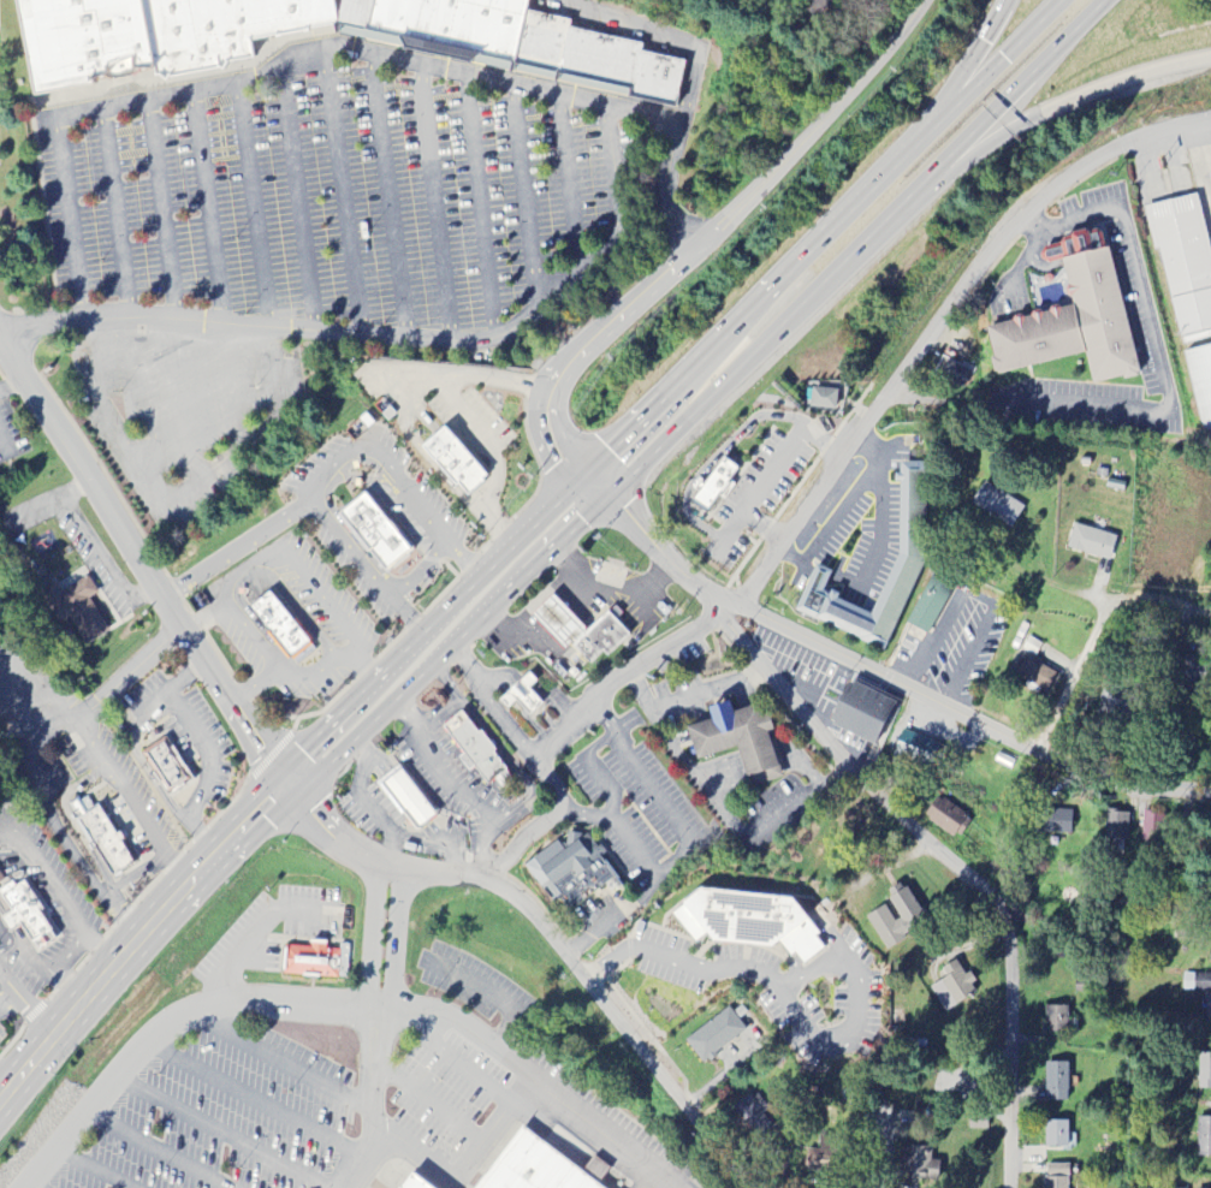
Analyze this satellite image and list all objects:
building: (443, 22)
building: (222, 28)
road: (665, 37)
building: (81, 42)
road: (966, 63)
road: (232, 83)
road: (1055, 109)
traffic signals: (930, 125)
road: (568, 182)
road: (526, 194)
road: (342, 196)
road: (390, 196)
road: (298, 201)
road: (434, 201)
road: (254, 204)
road: (481, 204)
road: (204, 207)
road: (162, 208)
road: (115, 212)
road: (716, 226)
building: (1183, 265)
road: (936, 320)
building: (1073, 320)
road: (492, 335)
road: (1153, 338)
building: (952, 374)
road: (235, 385)
road: (12, 386)
building: (1201, 386)
road: (672, 390)
building: (825, 394)
road: (142, 396)
road: (189, 398)
road: (706, 400)
road: (462, 421)
road: (4, 445)
building: (451, 459)
road: (332, 465)
road: (575, 473)
traffic signals: (581, 479)
building: (713, 483)
road: (75, 488)
road: (178, 491)
traffic signals: (604, 500)
building: (997, 505)
road: (35, 506)
road: (842, 507)
road: (880, 518)
building: (372, 529)
building: (1091, 542)
road: (96, 546)
road: (237, 548)
building: (910, 553)
road: (265, 554)
road: (138, 565)
road: (422, 570)
road: (583, 580)
road: (1055, 583)
road: (635, 590)
road: (141, 592)
building: (928, 606)
building: (76, 610)
road: (202, 619)
building: (558, 620)
road: (558, 620)
building: (278, 624)
road: (1097, 634)
building: (601, 636)
road: (511, 637)
road: (649, 654)
road: (308, 673)
road: (881, 679)
building: (520, 694)
road: (685, 695)
building: (1117, 702)
road: (489, 706)
building: (862, 713)
road: (36, 737)
building: (737, 738)
building: (474, 748)
road: (207, 752)
building: (915, 752)
building: (165, 764)
traffic signals: (291, 782)
road: (120, 784)
building: (405, 798)
building: (946, 818)
building: (1053, 821)
road: (730, 822)
building: (1116, 825)
building: (1148, 826)
road: (681, 827)
building: (103, 839)
road: (950, 856)
road: (149, 863)
building: (570, 869)
building: (0, 879)
road: (120, 914)
building: (23, 915)
road: (612, 916)
building: (895, 916)
building: (747, 920)
road: (138, 934)
road: (255, 935)
road: (548, 937)
road: (374, 957)
building: (310, 960)
road: (391, 960)
building: (952, 987)
road: (489, 993)
road: (25, 999)
road: (785, 1002)
road: (336, 1005)
building: (1207, 1010)
building: (1056, 1020)
building: (716, 1034)
road: (280, 1061)
road: (461, 1064)
building: (1204, 1073)
building: (1056, 1082)
road: (254, 1099)
road: (429, 1103)
building: (753, 1115)
building: (904, 1119)
building: (978, 1123)
road: (374, 1124)
road: (219, 1134)
building: (1056, 1134)
building: (1203, 1136)
road: (156, 1148)
building: (821, 1158)
road: (463, 1165)
road: (91, 1168)
building: (533, 1168)
building: (919, 1168)
building: (596, 1170)
building: (1056, 1176)
building: (412, 1183)
road: (29, 1184)

